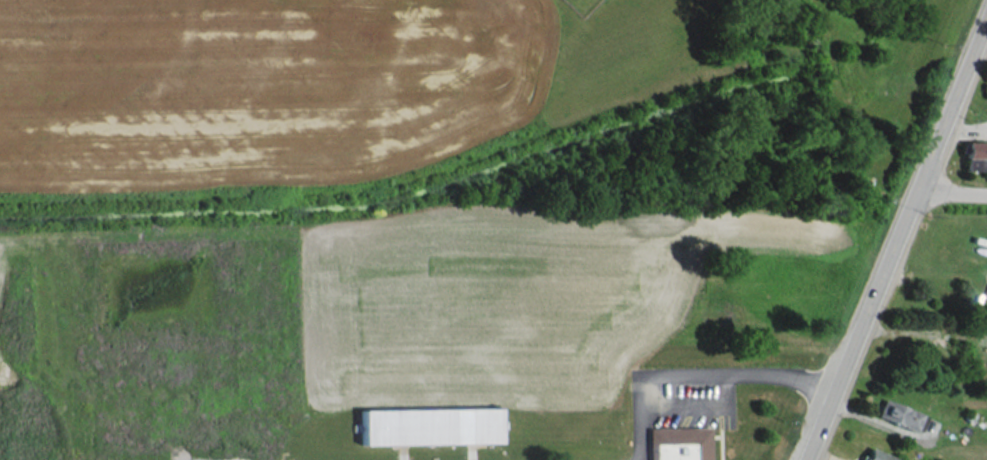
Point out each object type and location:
road: (950, 106)
building: (975, 155)
road: (950, 194)
road: (859, 327)
road: (695, 375)
building: (897, 415)
building: (428, 426)
building: (677, 443)
building: (877, 455)

